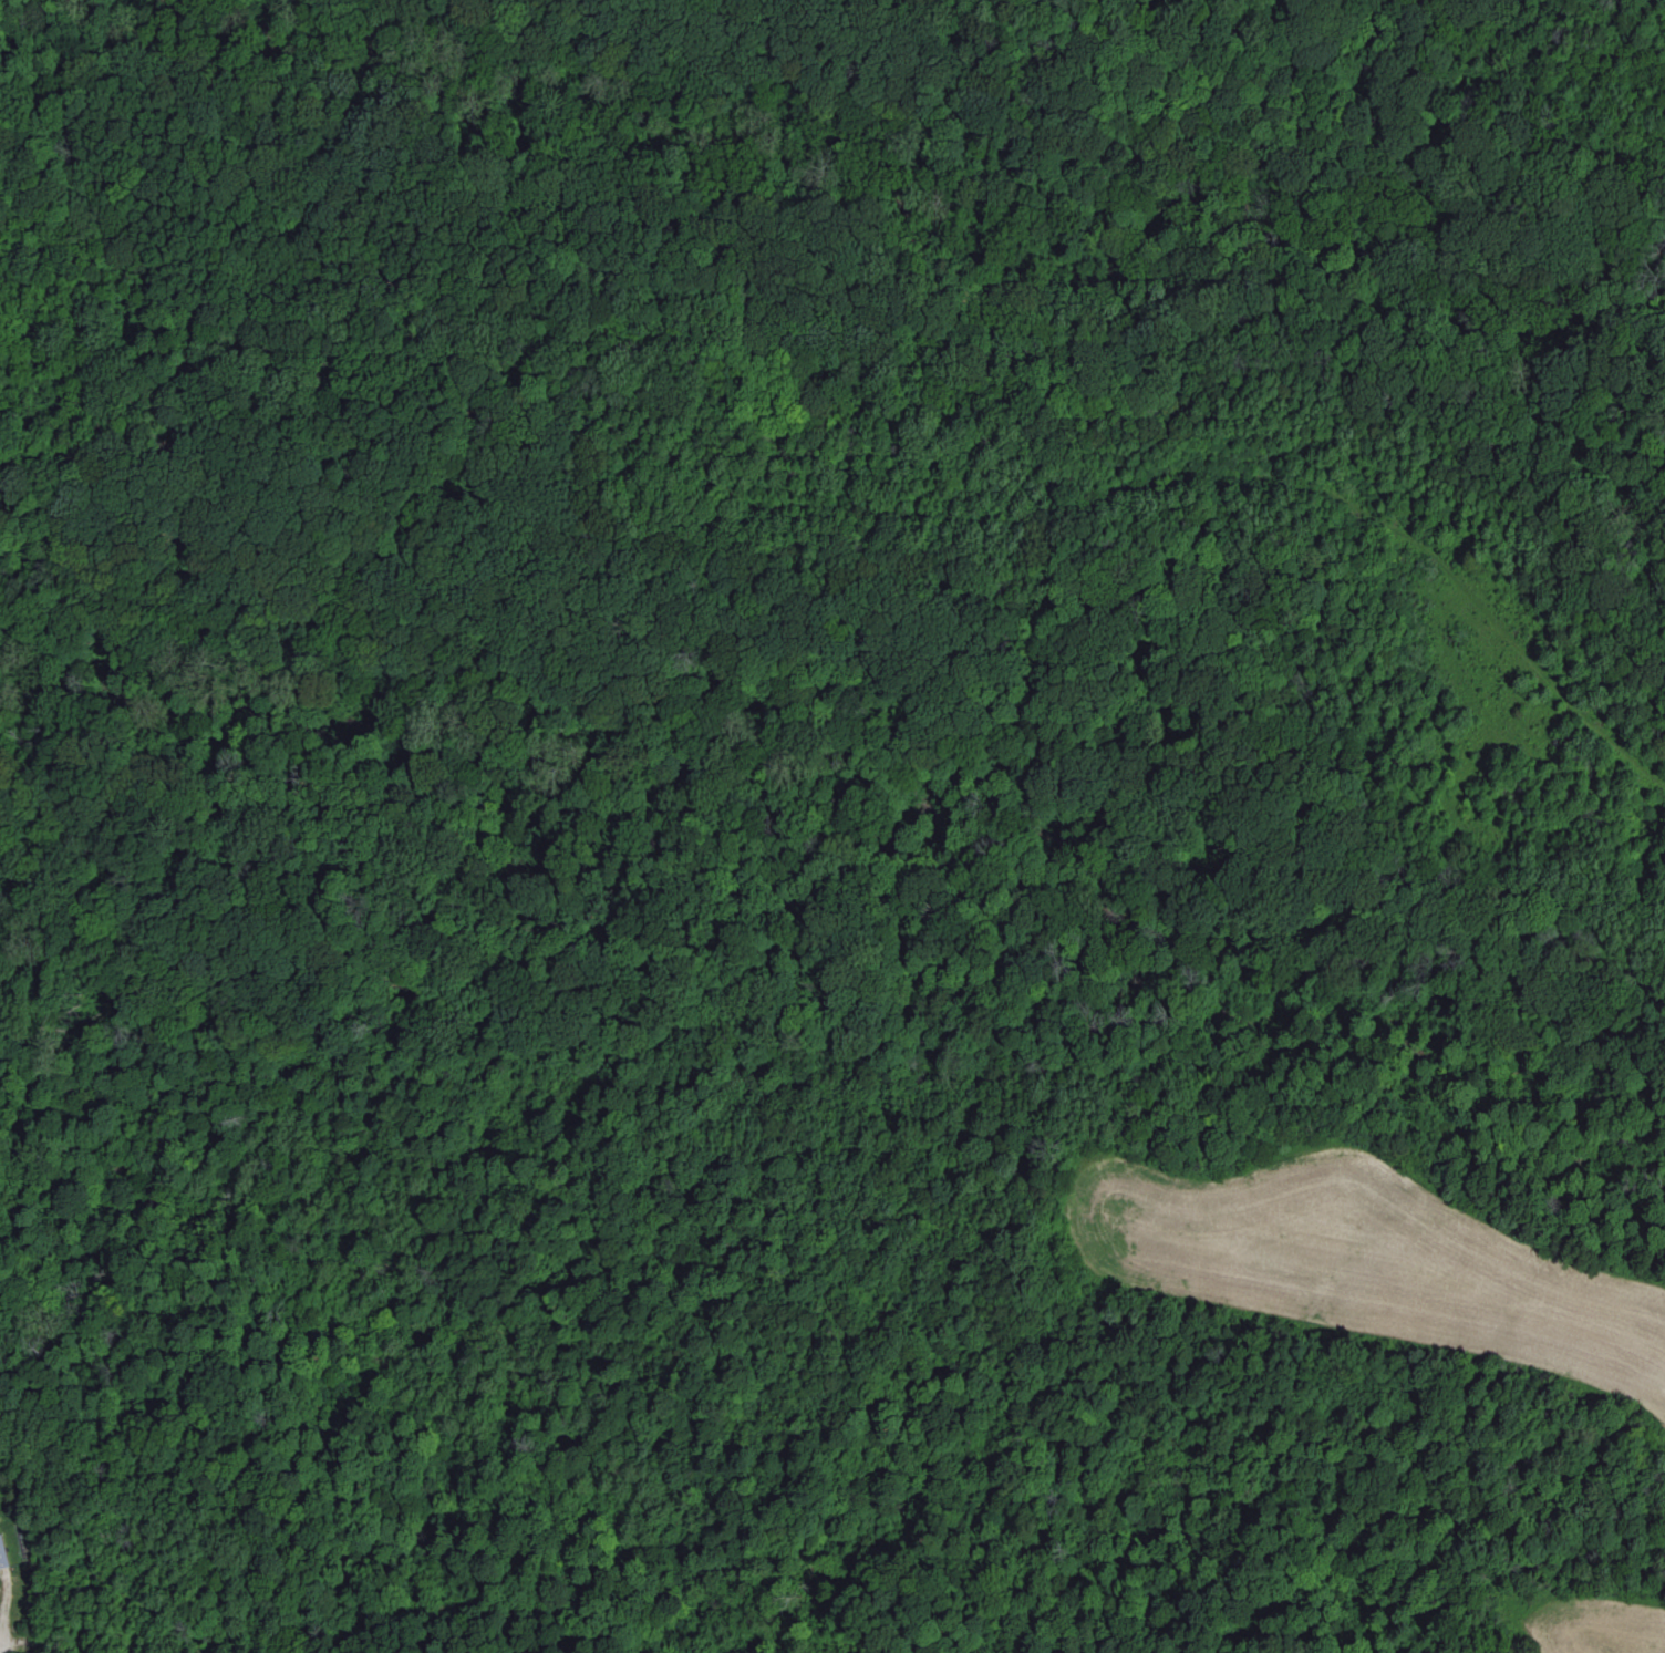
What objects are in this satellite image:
building: (3, 1553)

